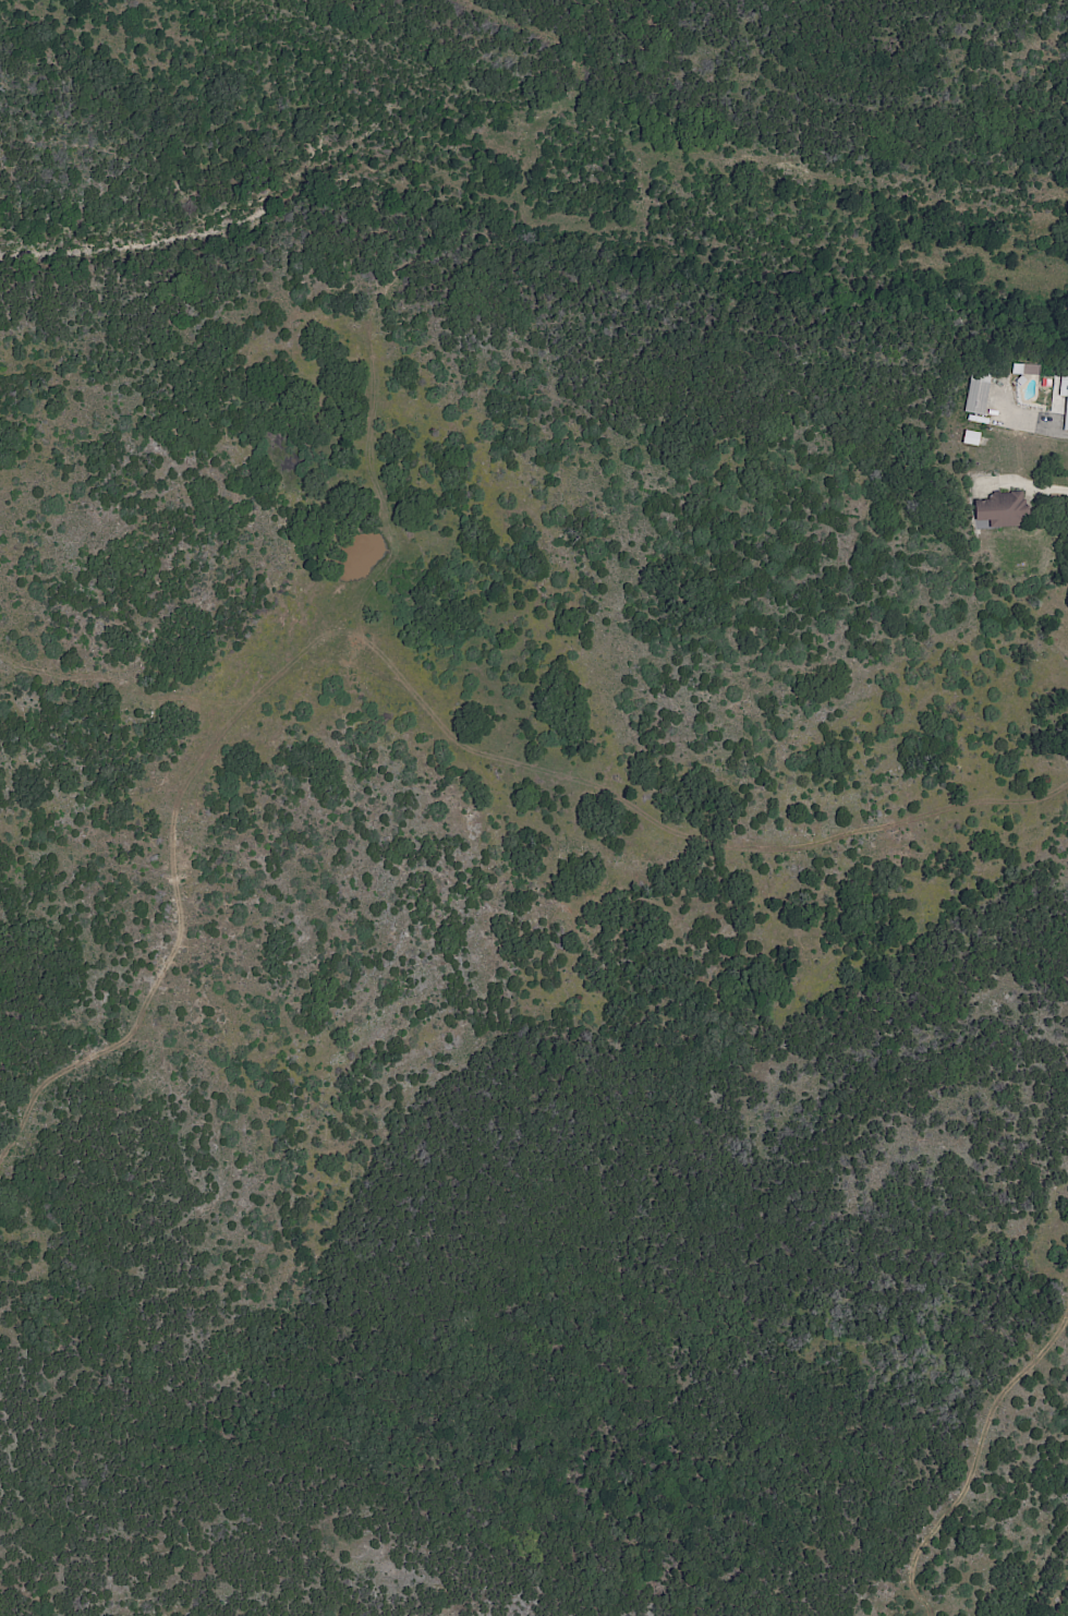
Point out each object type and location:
building: (1067, 384)
building: (976, 397)
road: (1066, 434)
road: (1063, 496)

